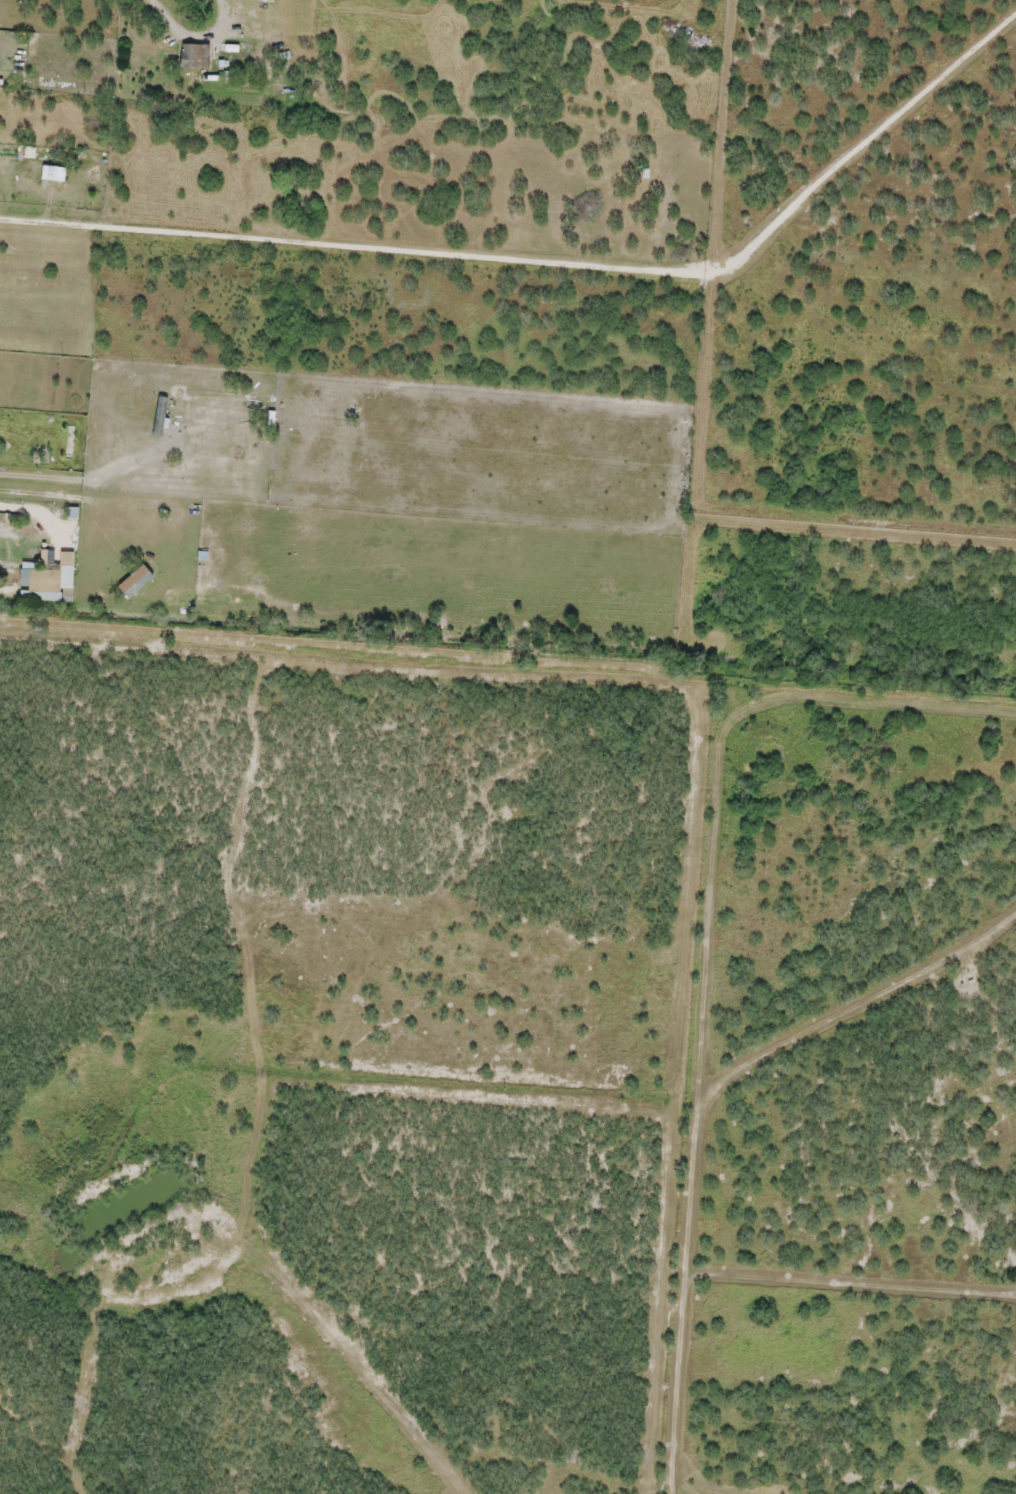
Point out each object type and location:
building: (192, 55)
road: (63, 210)
road: (63, 230)
road: (53, 474)
road: (52, 493)
building: (69, 576)
building: (43, 595)
road: (693, 742)

